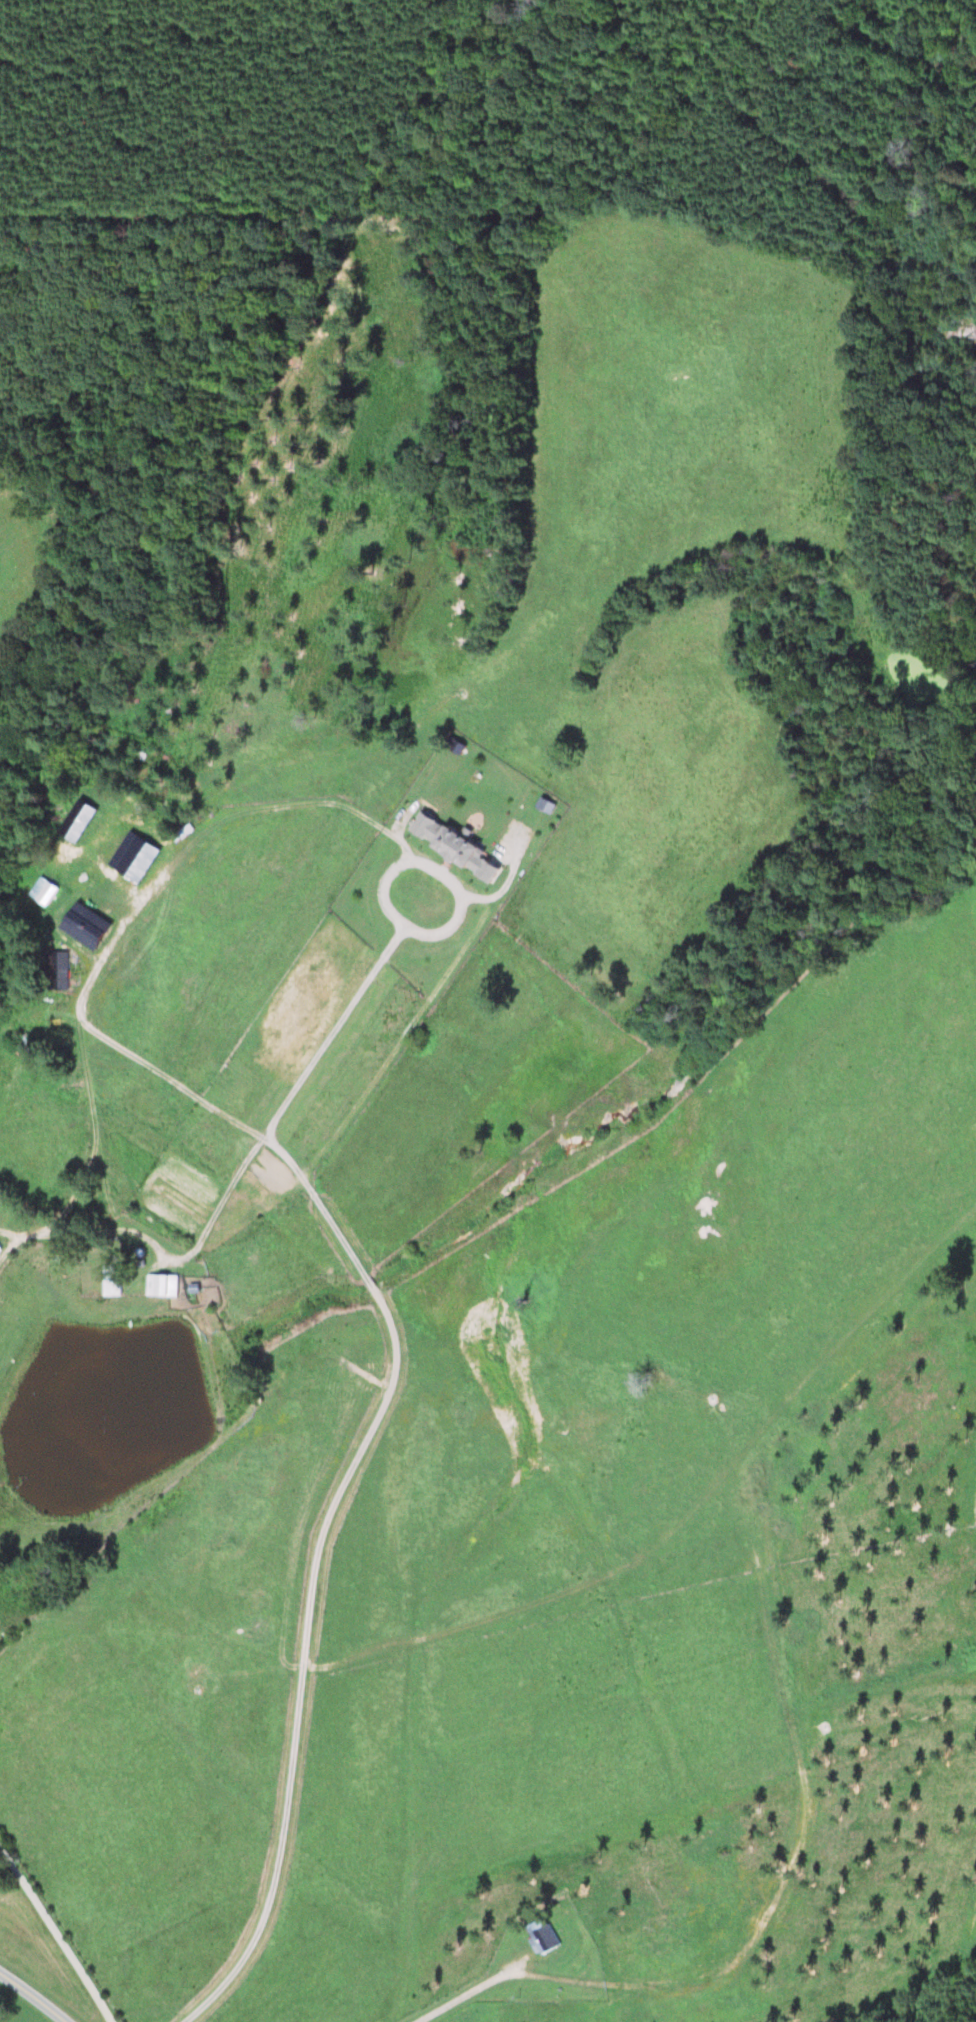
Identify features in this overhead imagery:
building: (449, 848)
road: (430, 861)
building: (56, 972)
building: (20, 1046)
road: (333, 1226)
road: (17, 1242)
building: (109, 1282)
road: (369, 1282)
building: (159, 1287)
road: (304, 1660)
building: (544, 1936)
road: (56, 1939)
road: (726, 1972)
road: (470, 1993)
road: (36, 1994)

